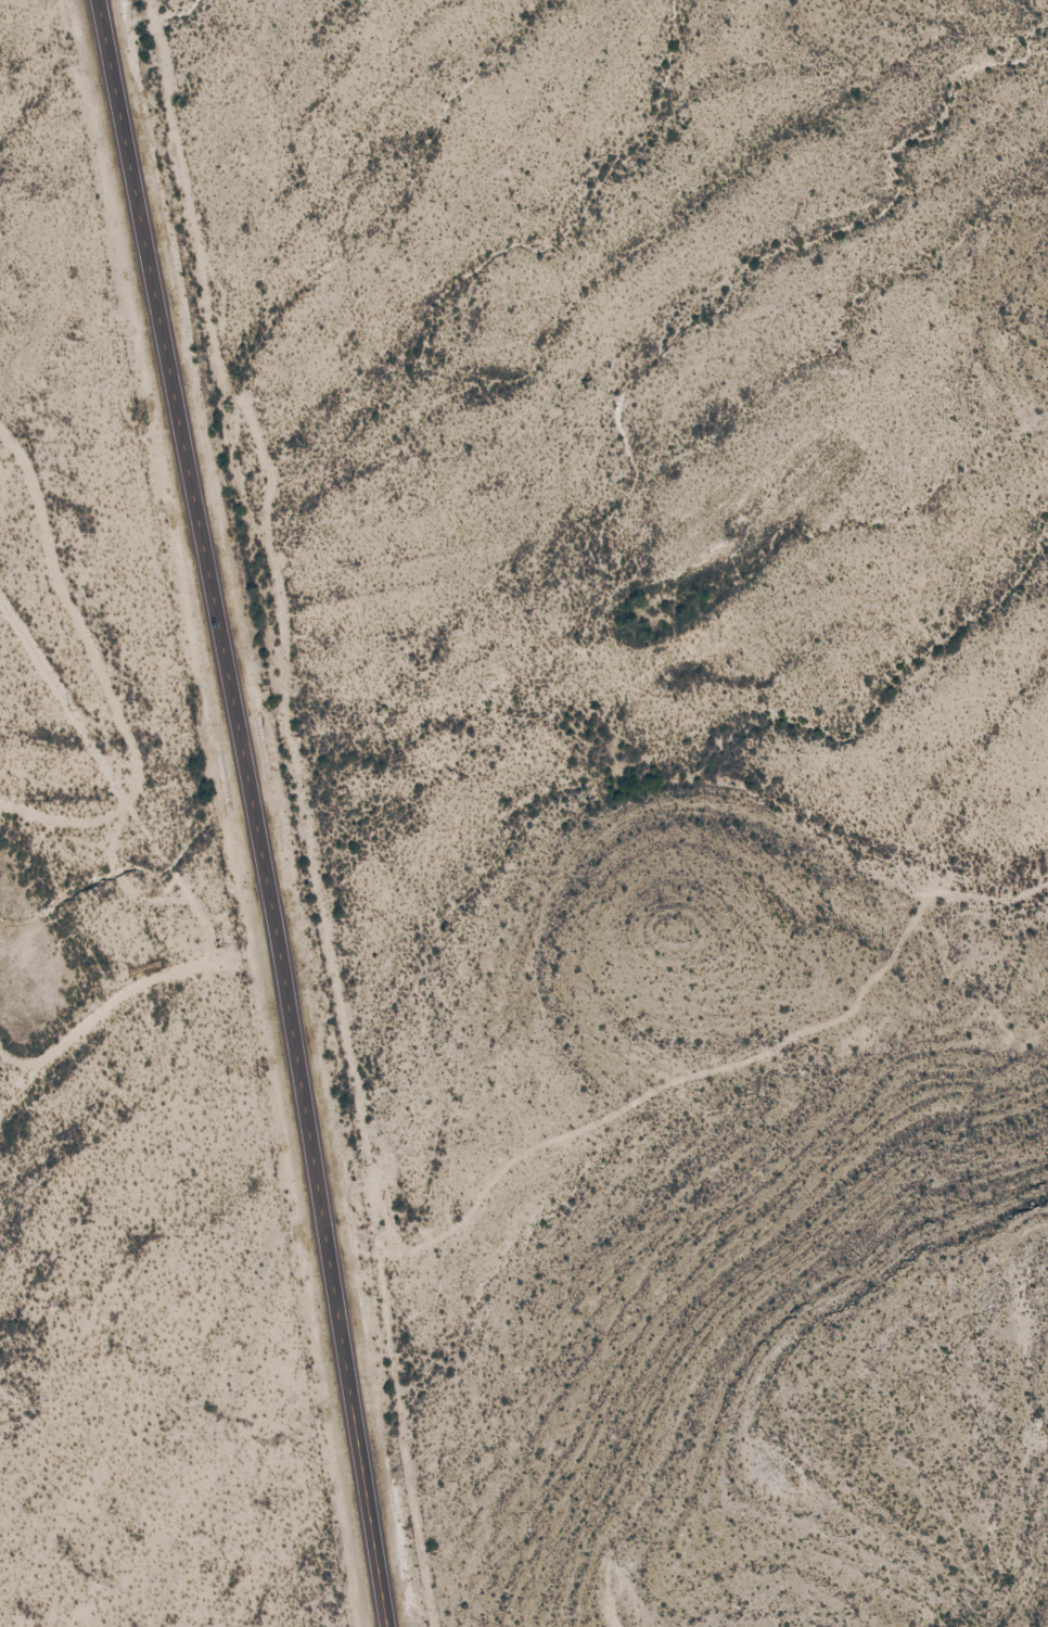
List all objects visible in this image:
road: (3, 490)
road: (98, 676)
road: (61, 689)
road: (253, 812)
road: (126, 991)

